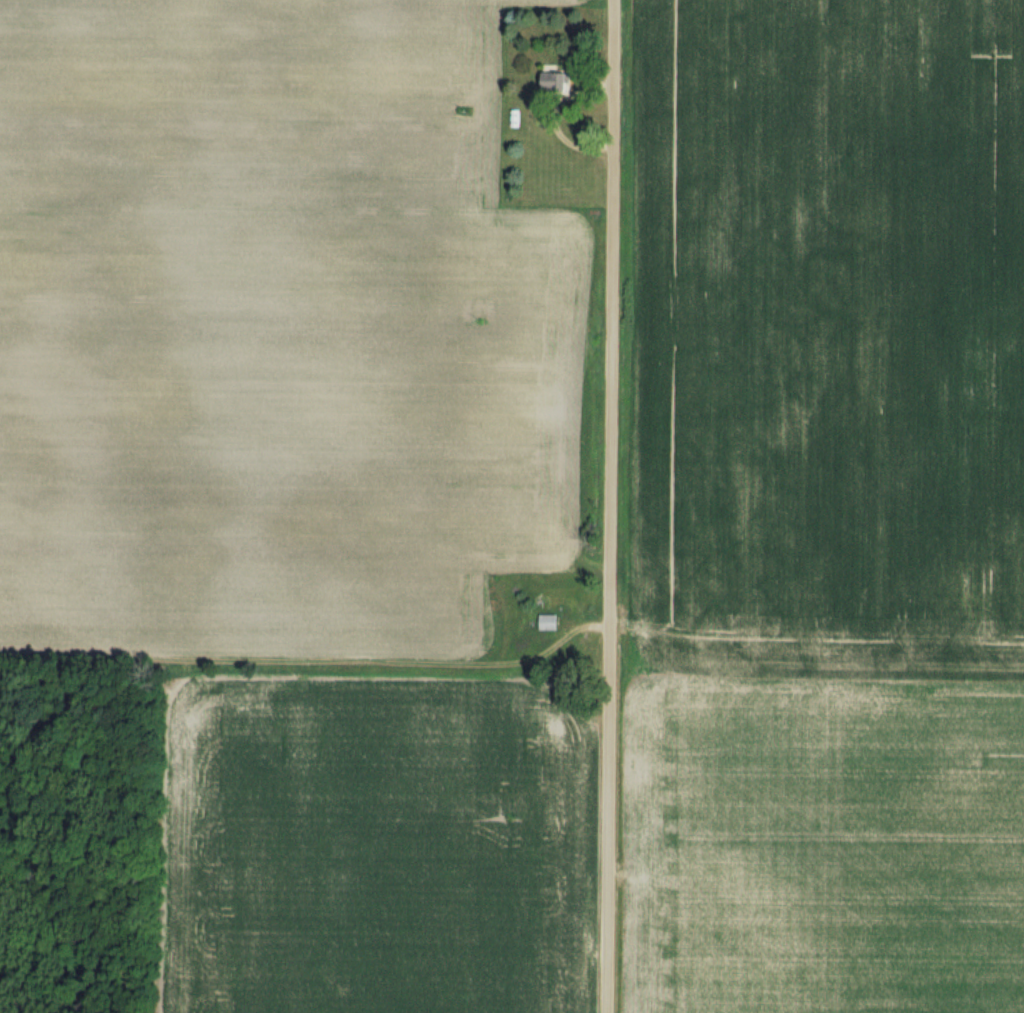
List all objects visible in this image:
building: (558, 81)
road: (609, 506)
building: (548, 622)

